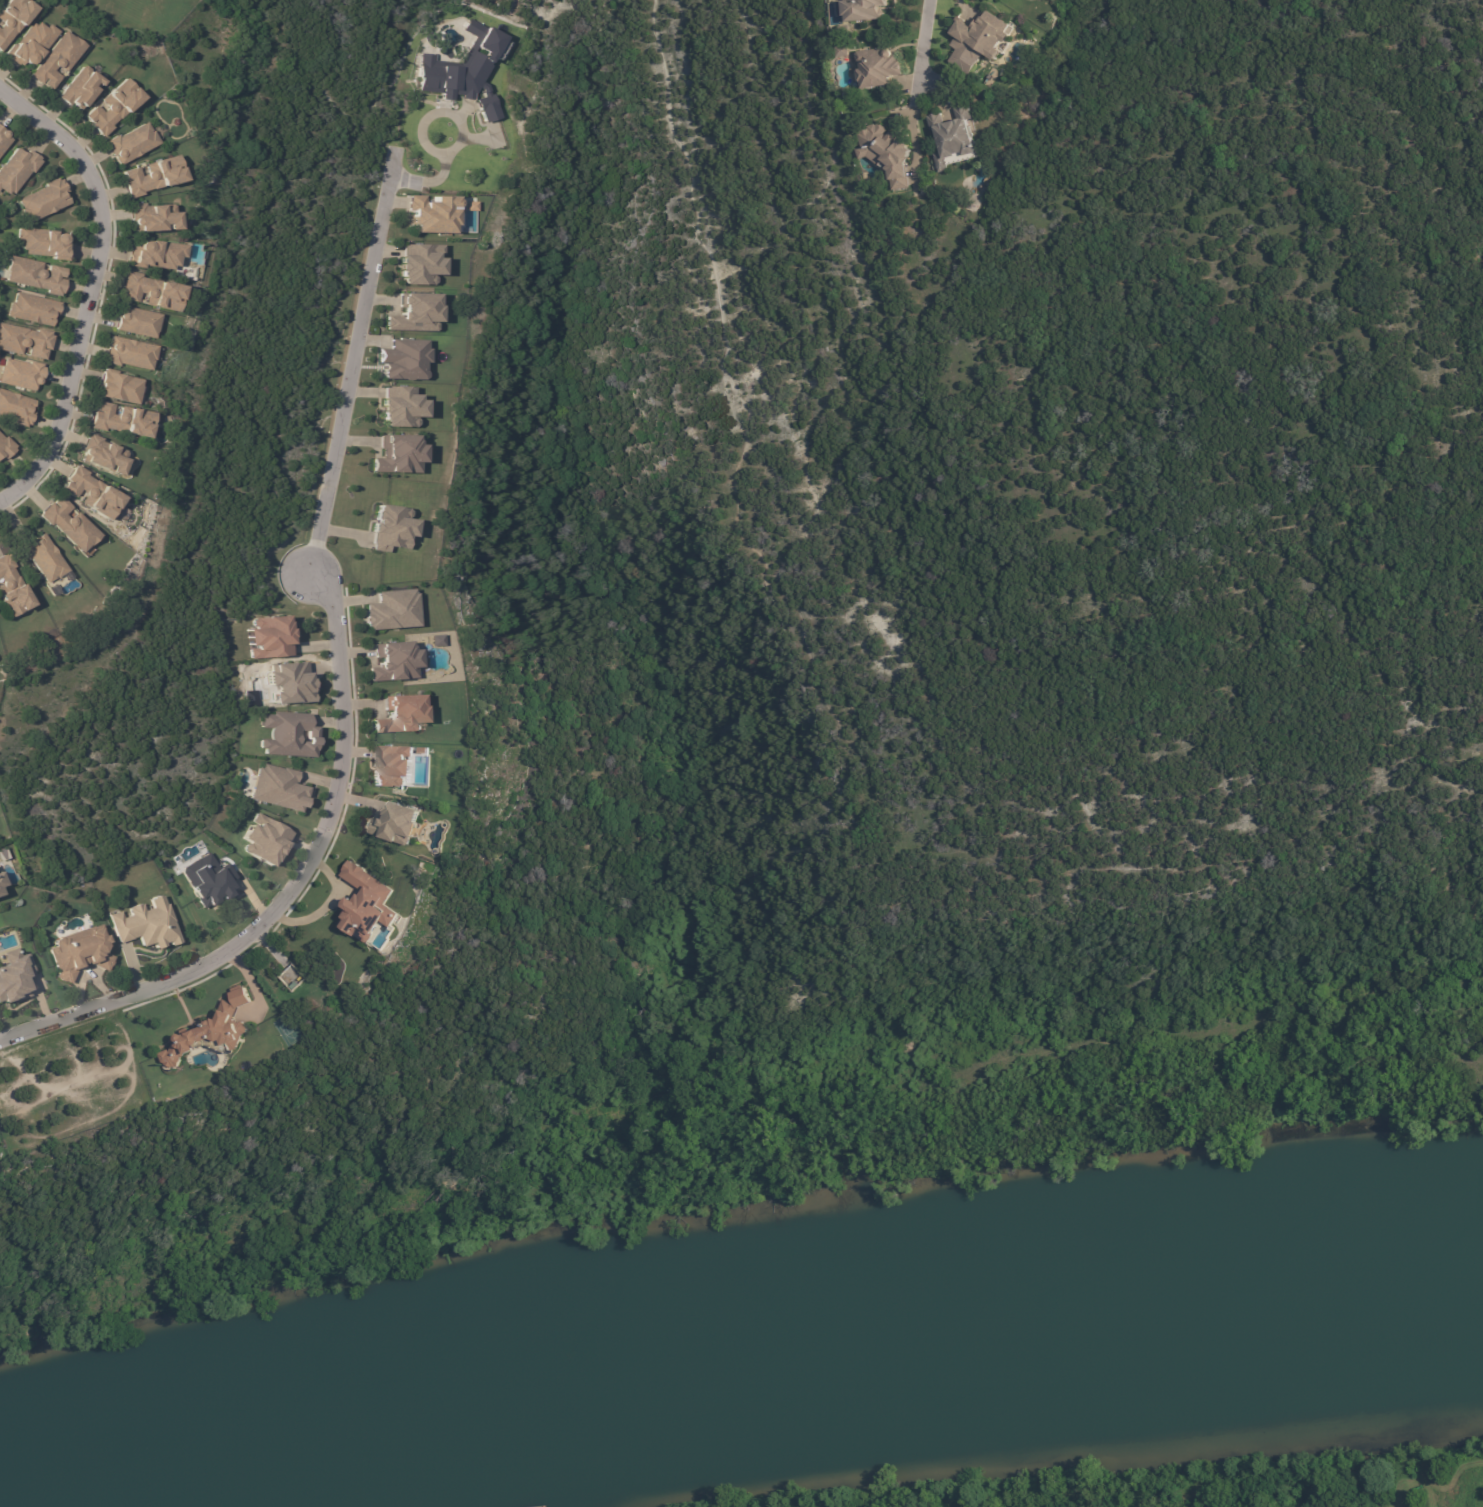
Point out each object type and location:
building: (863, 12)
building: (11, 20)
building: (983, 37)
building: (34, 44)
building: (498, 49)
building: (842, 53)
building: (57, 59)
building: (878, 70)
building: (462, 71)
building: (80, 89)
road: (919, 90)
building: (113, 107)
building: (0, 128)
road: (461, 138)
building: (3, 141)
building: (132, 143)
building: (954, 143)
building: (885, 157)
building: (16, 169)
building: (154, 175)
building: (42, 200)
building: (470, 205)
building: (431, 213)
building: (153, 217)
building: (45, 243)
building: (153, 254)
building: (419, 263)
building: (35, 276)
building: (150, 290)
road: (87, 291)
building: (31, 309)
building: (414, 313)
building: (137, 323)
building: (23, 341)
building: (129, 353)
road: (355, 359)
building: (403, 359)
building: (20, 374)
building: (119, 389)
building: (400, 406)
building: (15, 408)
building: (120, 421)
building: (4, 448)
building: (103, 454)
building: (397, 455)
building: (91, 493)
building: (69, 525)
building: (390, 528)
building: (43, 558)
building: (9, 589)
building: (391, 610)
building: (268, 637)
building: (289, 682)
building: (401, 715)
building: (287, 734)
building: (391, 765)
building: (277, 787)
building: (394, 823)
building: (264, 840)
building: (207, 880)
building: (0, 882)
road: (300, 891)
building: (364, 903)
building: (146, 925)
building: (79, 954)
building: (14, 975)
building: (292, 987)
building: (211, 1030)
river: (795, 1337)
road: (1309, 1474)
park: (1154, 1487)

